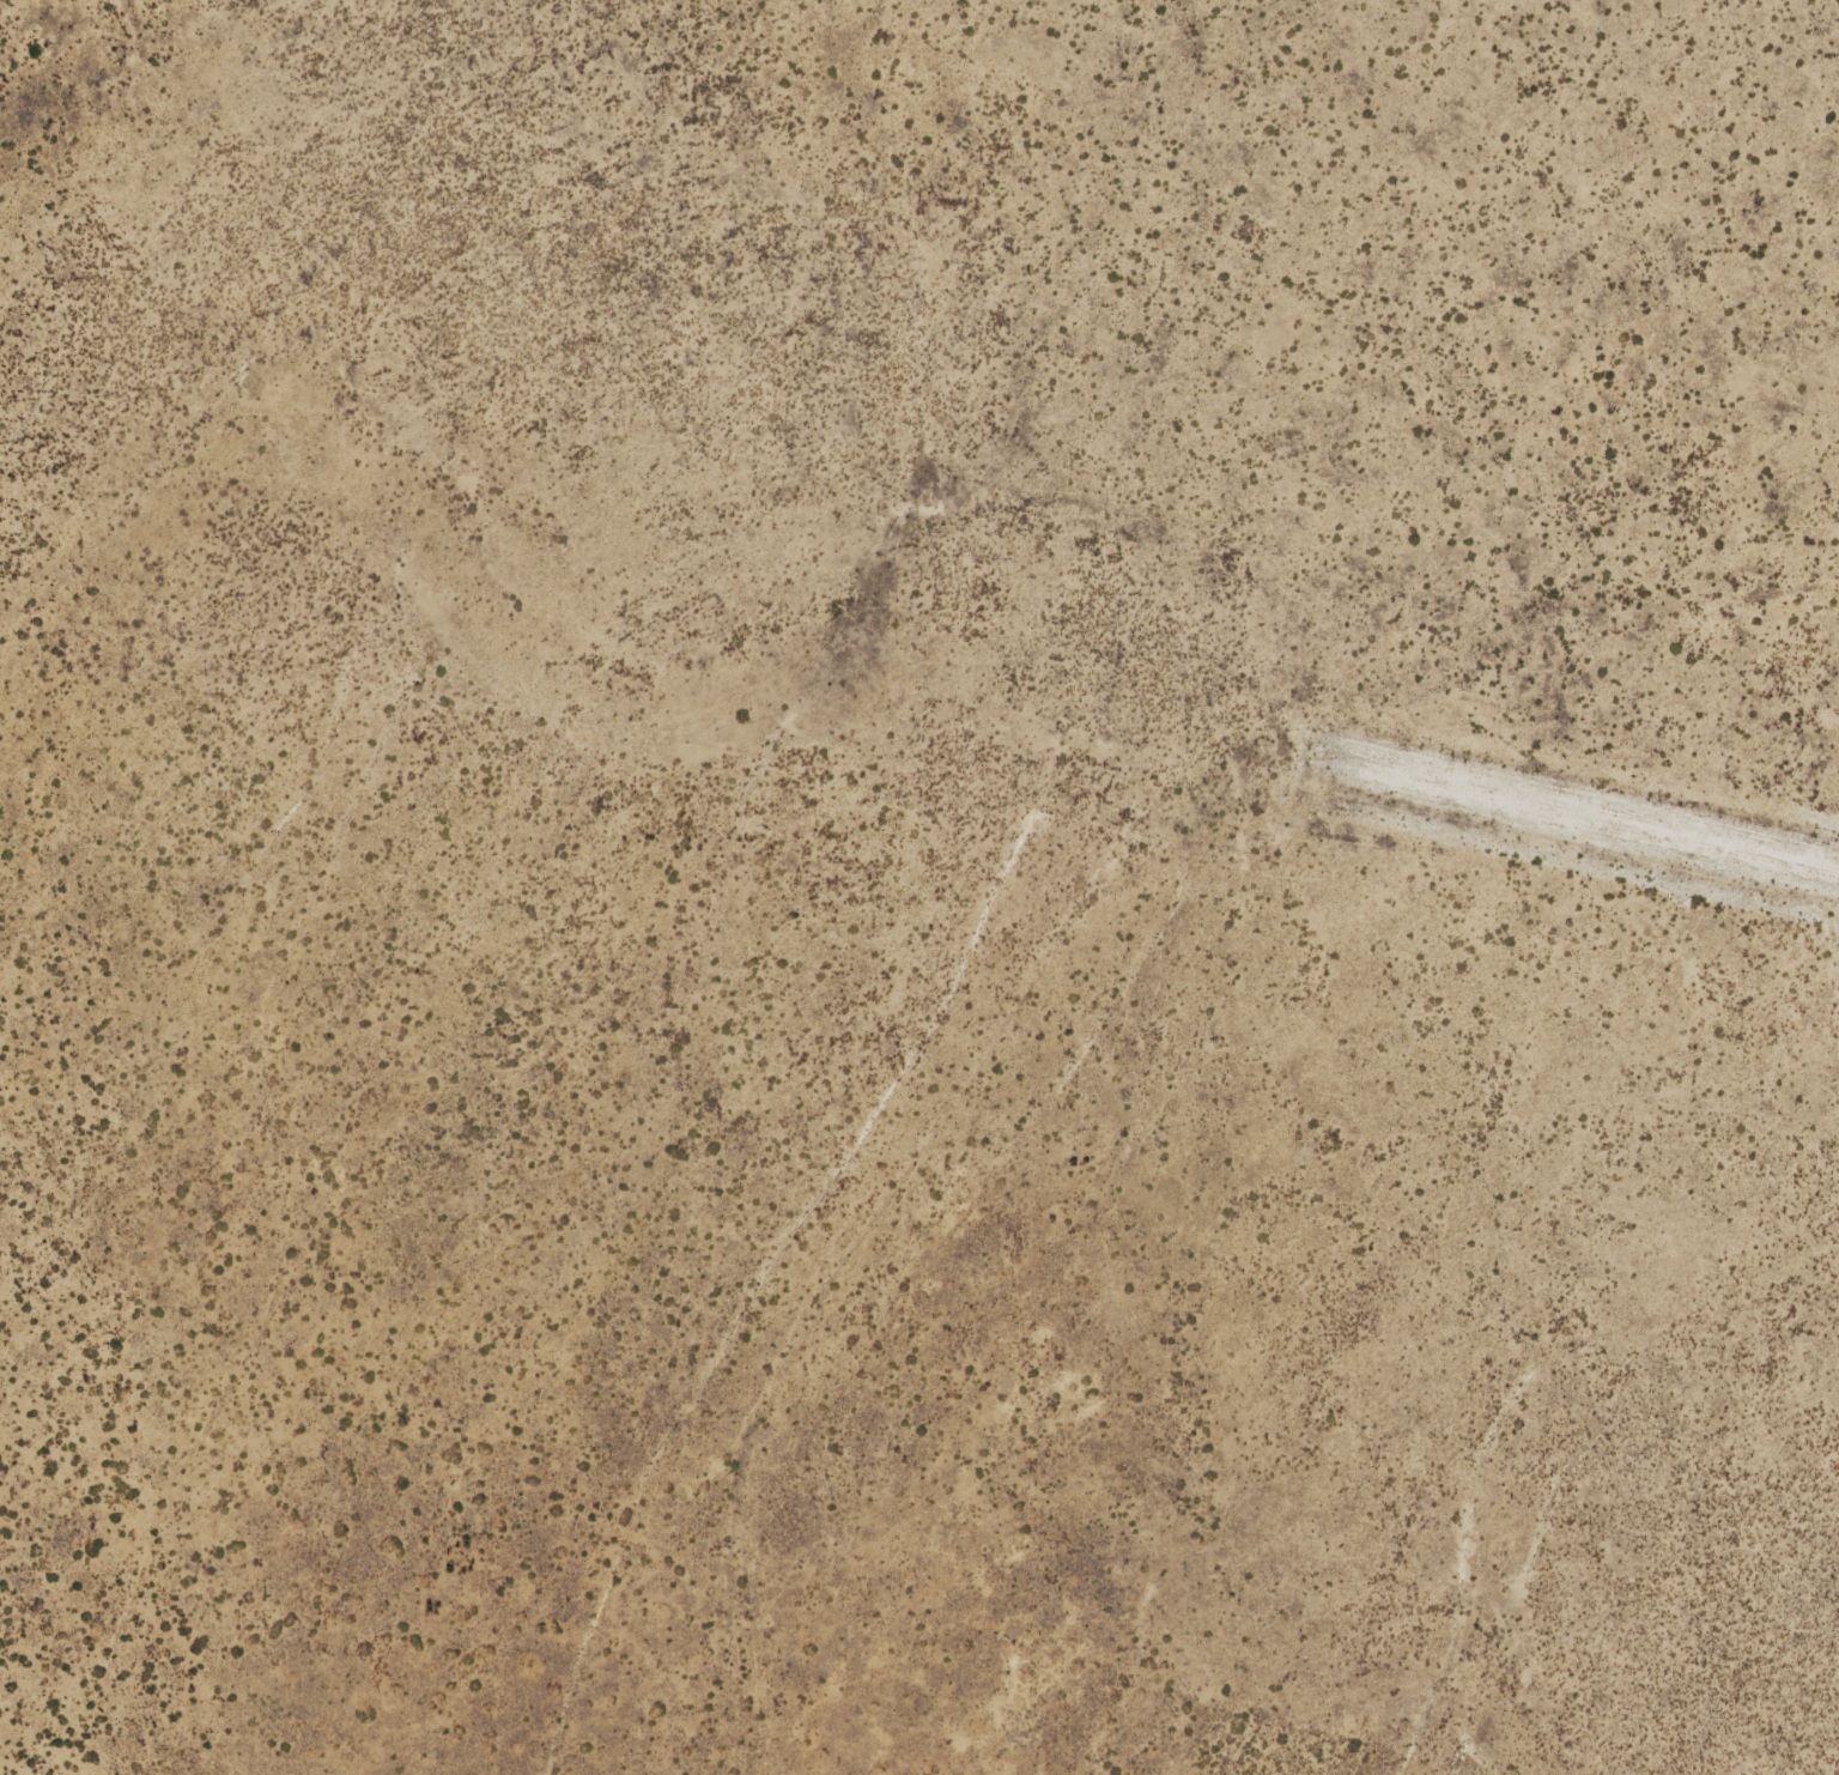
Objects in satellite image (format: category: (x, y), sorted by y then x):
airport runway: (1595, 812)

